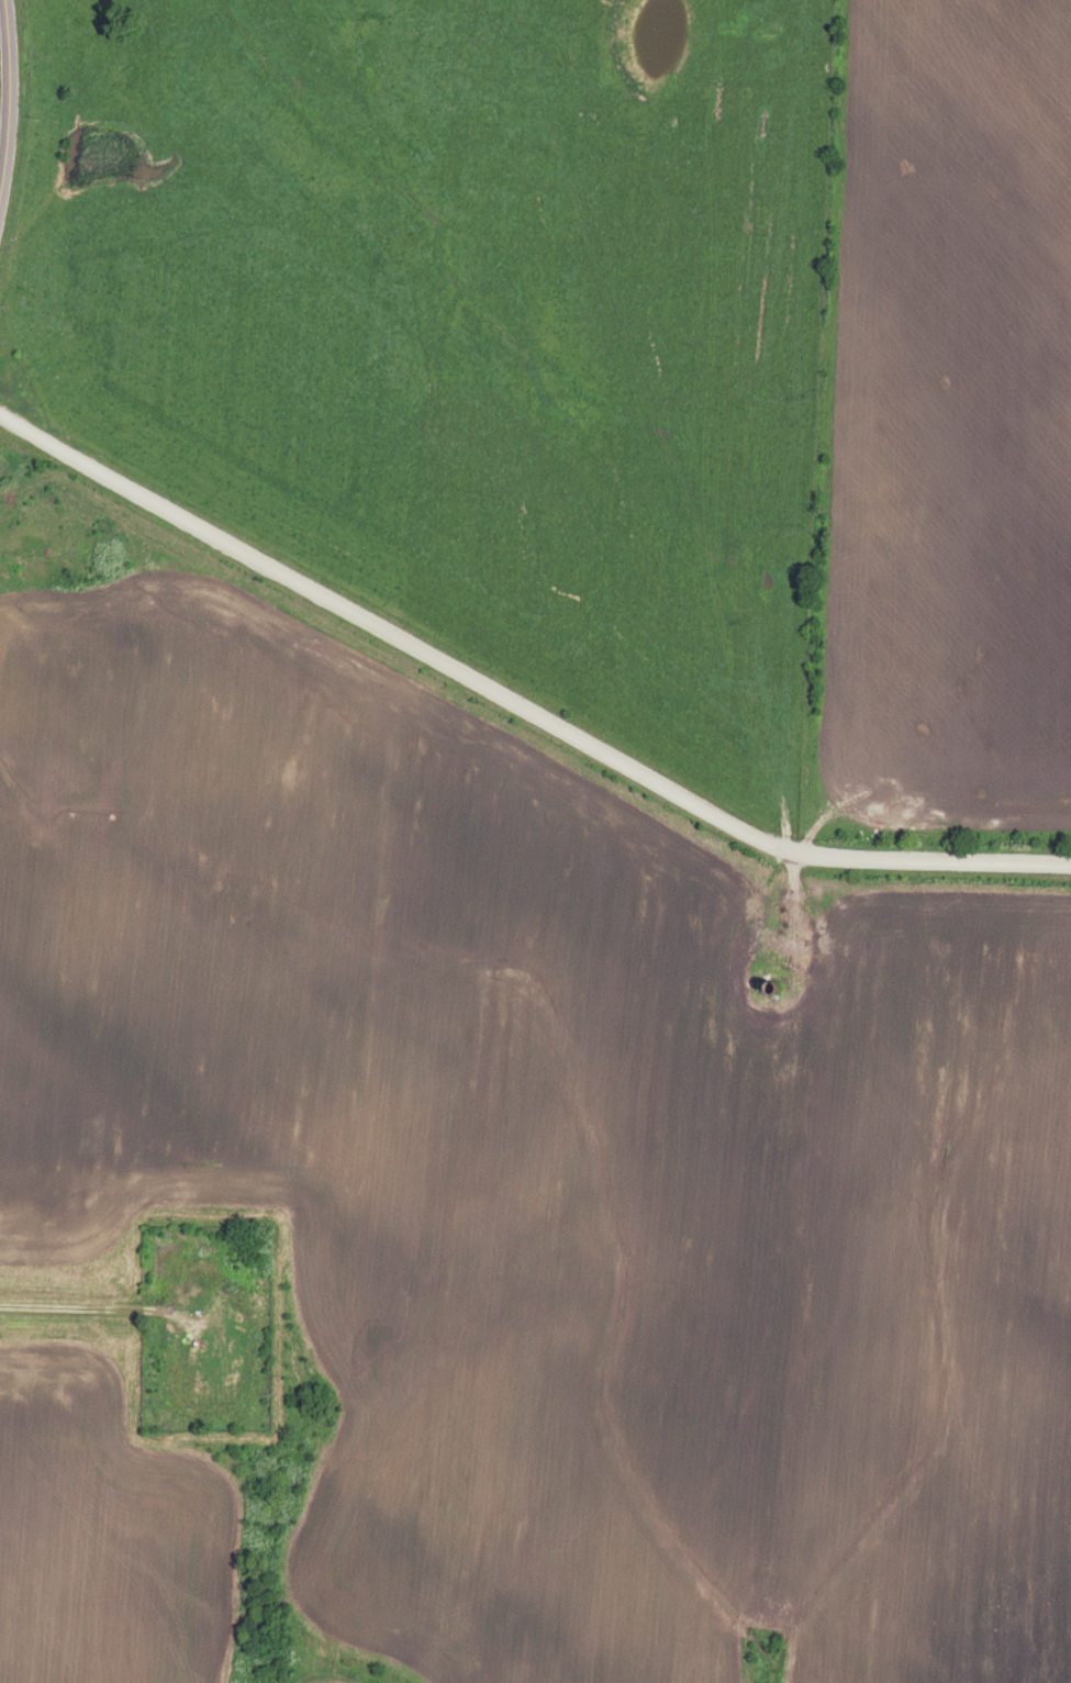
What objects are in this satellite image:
road: (10, 98)
road: (516, 705)

